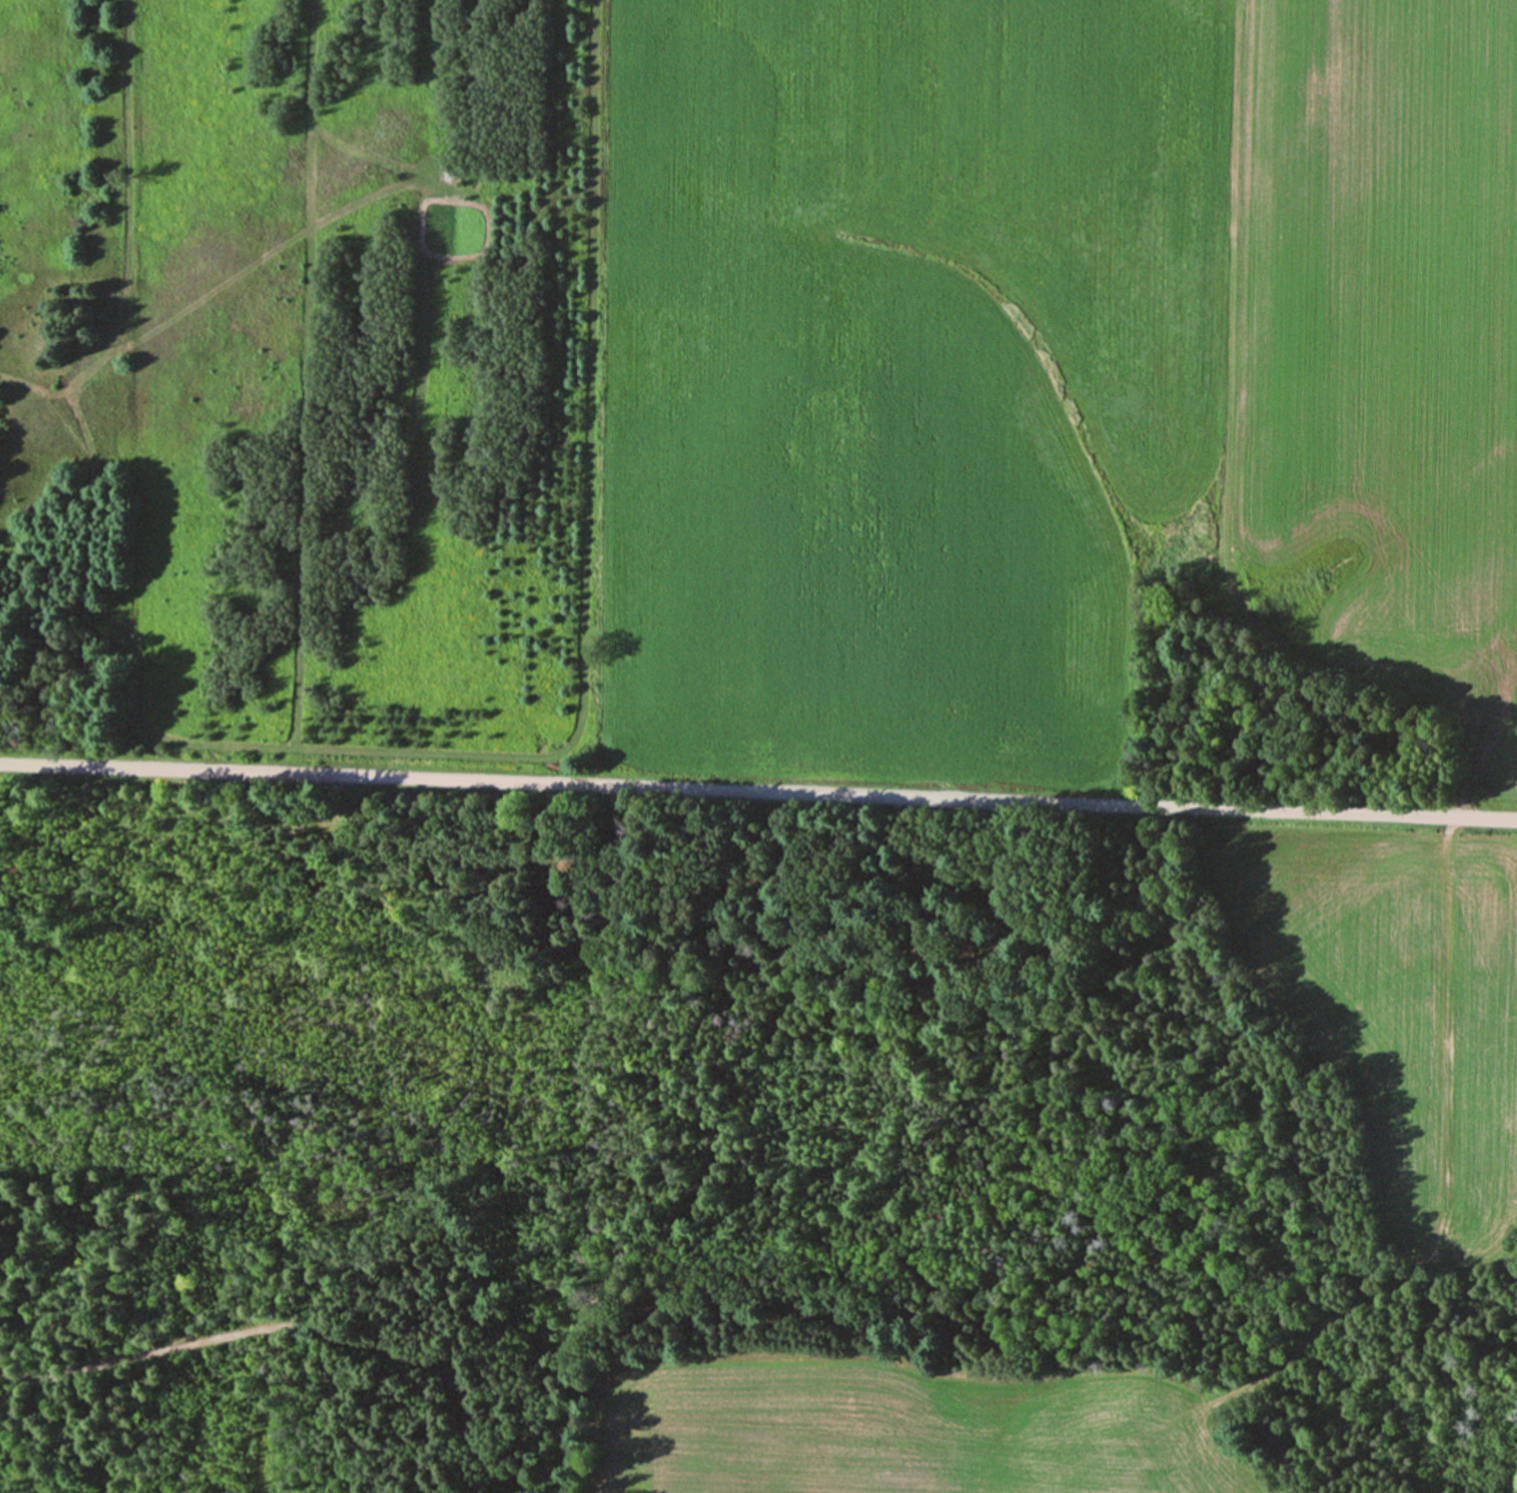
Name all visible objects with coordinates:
road: (758, 793)

